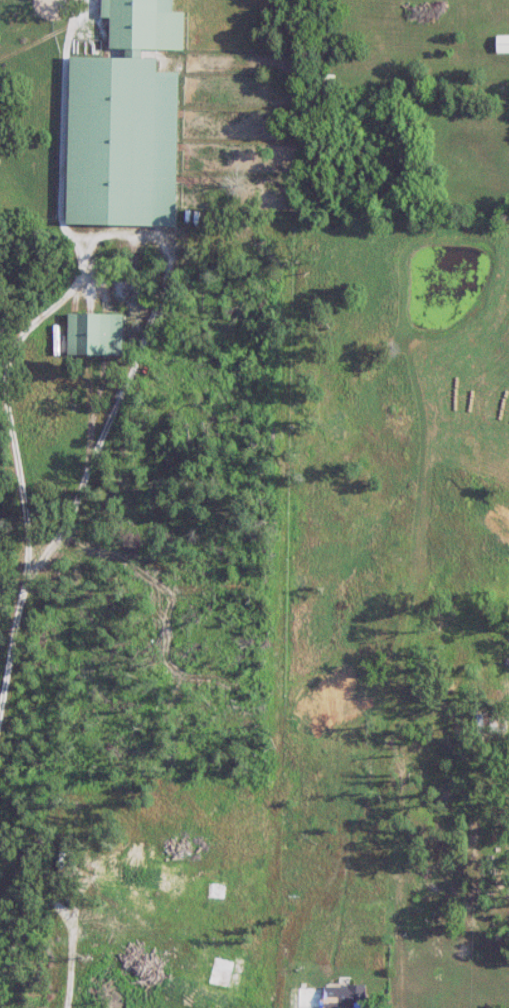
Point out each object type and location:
building: (125, 122)
building: (95, 334)
road: (90, 467)
building: (490, 723)
road: (65, 869)
building: (217, 891)
road: (66, 966)
building: (227, 974)
building: (331, 997)

